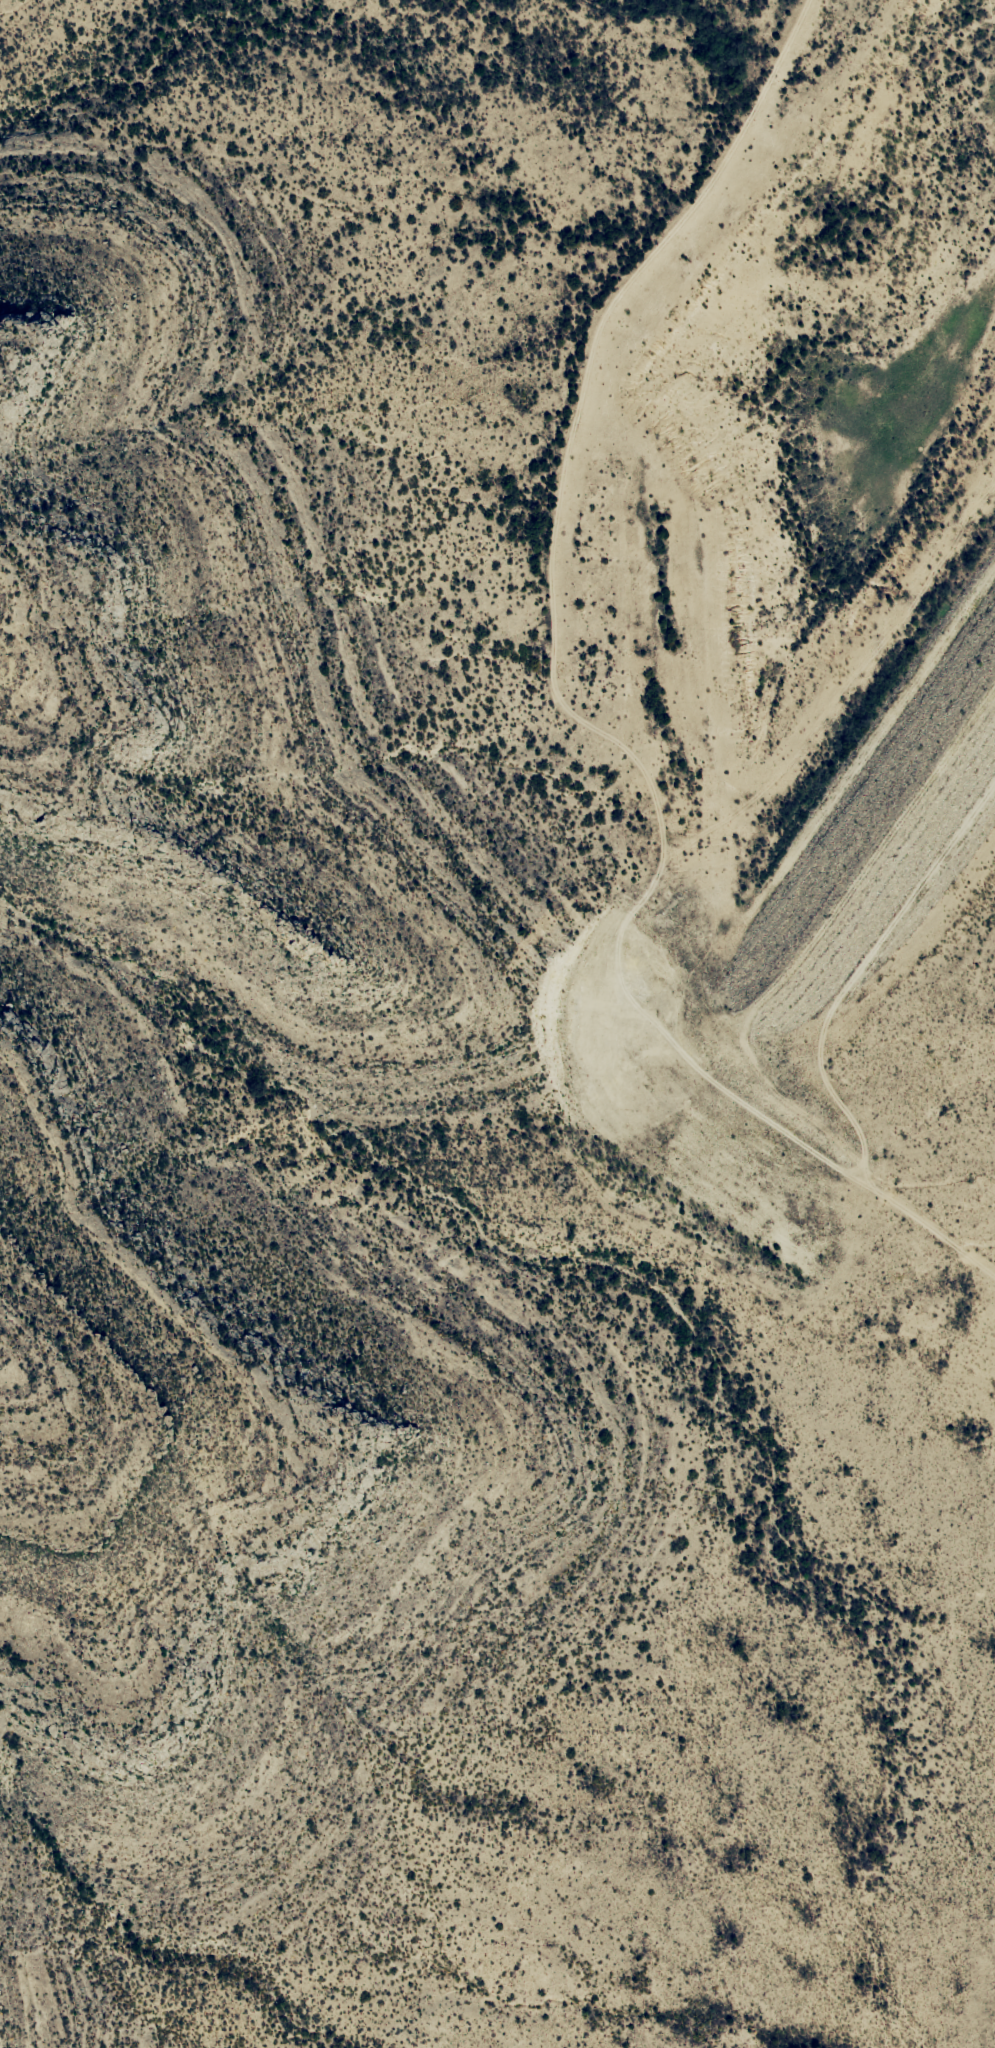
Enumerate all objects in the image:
road: (576, 717)
road: (856, 969)

